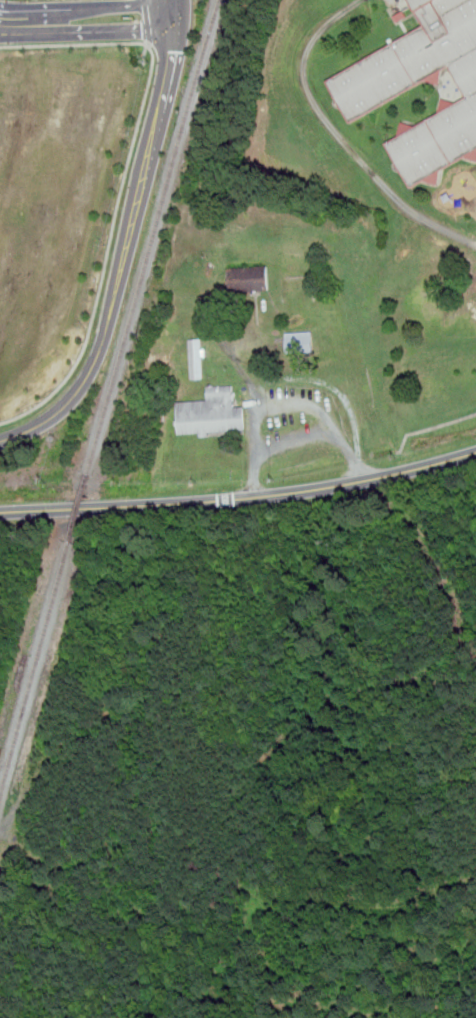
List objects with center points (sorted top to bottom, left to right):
road: (169, 10)
road: (175, 10)
road: (86, 21)
road: (150, 21)
road: (150, 44)
road: (80, 45)
traffic signals: (173, 51)
building: (370, 88)
road: (163, 103)
railway: (152, 236)
road: (108, 260)
building: (249, 278)
road: (105, 338)
building: (300, 341)
building: (197, 358)
road: (291, 403)
building: (212, 412)
road: (432, 428)
road: (295, 436)
road: (240, 497)
railway: (78, 507)
railway: (34, 668)

